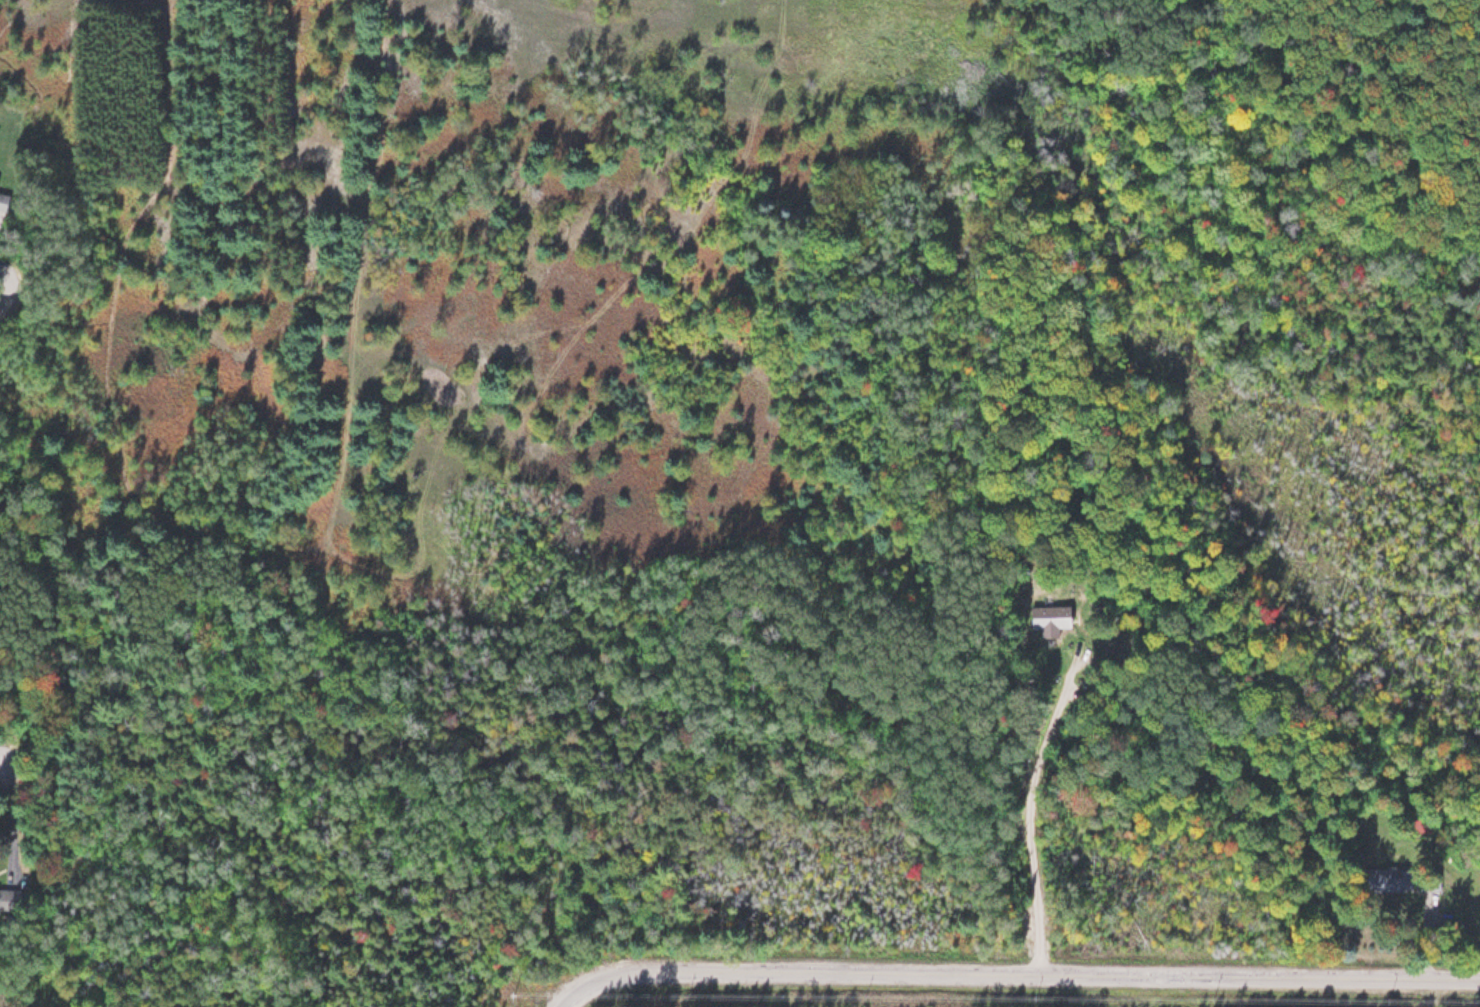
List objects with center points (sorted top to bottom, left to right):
building: (9, 200)
building: (1047, 619)
road: (2, 767)
building: (1419, 826)
building: (1403, 879)
building: (8, 897)
road: (1016, 971)

